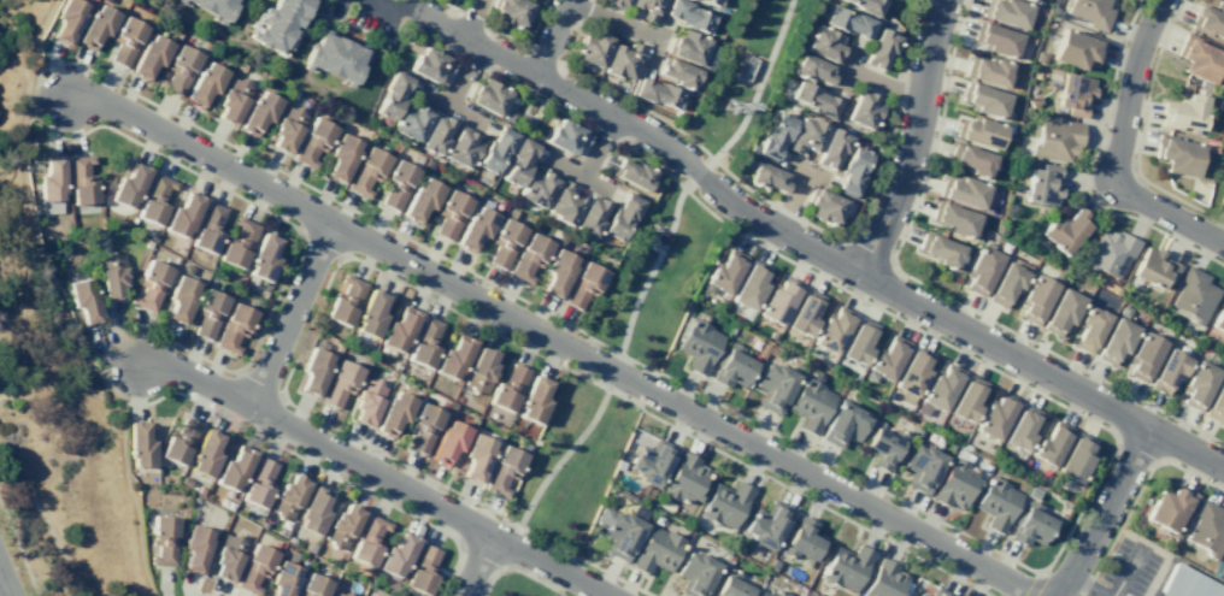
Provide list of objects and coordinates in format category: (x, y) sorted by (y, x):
building: (460, 0)
building: (1034, 0)
building: (711, 1)
building: (617, 4)
road: (394, 6)
building: (867, 6)
building: (211, 7)
building: (646, 8)
building: (1006, 11)
building: (510, 12)
building: (1090, 12)
building: (688, 14)
road: (307, 16)
road: (471, 18)
road: (612, 18)
building: (1208, 19)
building: (67, 20)
building: (848, 22)
building: (275, 23)
road: (482, 23)
road: (535, 23)
building: (95, 26)
road: (1167, 28)
road: (366, 31)
road: (552, 36)
building: (995, 39)
building: (125, 41)
road: (655, 43)
building: (825, 45)
building: (593, 47)
building: (685, 47)
building: (879, 48)
building: (1076, 48)
building: (333, 55)
building: (149, 57)
building: (707, 57)
building: (1040, 58)
building: (1196, 58)
road: (464, 60)
building: (622, 60)
building: (430, 64)
road: (845, 67)
building: (812, 69)
building: (178, 70)
building: (988, 71)
road: (463, 73)
building: (677, 73)
park: (745, 75)
building: (204, 83)
road: (758, 83)
road: (883, 83)
road: (608, 90)
building: (655, 93)
building: (1073, 93)
building: (392, 95)
building: (488, 95)
road: (535, 98)
building: (813, 99)
building: (233, 100)
building: (983, 100)
building: (1032, 101)
power tower: (730, 106)
road: (451, 107)
building: (863, 110)
building: (258, 113)
building: (1182, 113)
road: (526, 116)
building: (505, 117)
building: (411, 120)
building: (286, 129)
building: (979, 131)
building: (435, 135)
building: (806, 135)
building: (565, 136)
building: (773, 136)
road: (912, 140)
building: (1055, 140)
building: (312, 142)
road: (599, 146)
building: (1208, 146)
building: (461, 147)
building: (831, 148)
building: (494, 149)
road: (1118, 149)
building: (1176, 154)
building: (341, 157)
building: (971, 159)
building: (518, 161)
road: (1135, 165)
road: (275, 169)
road: (805, 170)
road: (1085, 170)
building: (366, 171)
road: (698, 171)
building: (851, 171)
road: (194, 173)
road: (578, 173)
building: (631, 173)
building: (767, 176)
building: (1222, 178)
building: (81, 179)
building: (396, 184)
building: (1042, 184)
building: (49, 185)
building: (129, 185)
building: (537, 188)
building: (963, 191)
road: (692, 197)
road: (870, 197)
building: (154, 200)
building: (420, 200)
road: (792, 200)
building: (1222, 200)
building: (564, 203)
building: (823, 206)
building: (183, 214)
building: (449, 214)
building: (589, 216)
building: (619, 217)
building: (953, 219)
building: (208, 228)
road: (665, 228)
building: (473, 229)
road: (347, 230)
building: (1065, 231)
road: (649, 240)
building: (504, 242)
building: (237, 243)
road: (811, 248)
building: (938, 249)
building: (1110, 253)
building: (529, 256)
building: (263, 258)
building: (1153, 267)
road: (651, 269)
building: (981, 270)
building: (557, 272)
building: (723, 273)
building: (112, 275)
park: (657, 278)
building: (151, 283)
building: (1006, 283)
building: (583, 285)
building: (749, 285)
road: (934, 291)
building: (1194, 295)
building: (83, 299)
building: (1035, 299)
building: (181, 300)
building: (343, 300)
building: (778, 300)
building: (802, 312)
building: (1060, 312)
building: (207, 313)
road: (290, 313)
building: (370, 314)
building: (1218, 319)
building: (233, 326)
building: (399, 329)
building: (831, 329)
building: (1089, 329)
road: (258, 336)
building: (1114, 341)
building: (858, 342)
road: (106, 343)
building: (425, 343)
building: (698, 346)
building: (761, 350)
building: (1143, 355)
building: (454, 356)
building: (884, 359)
building: (731, 366)
building: (479, 370)
building: (313, 371)
road: (612, 371)
building: (1167, 371)
road: (123, 374)
building: (911, 374)
building: (339, 383)
building: (1197, 383)
building: (507, 386)
building: (773, 386)
road: (53, 388)
building: (937, 389)
building: (966, 399)
building: (534, 400)
building: (366, 401)
building: (1216, 402)
building: (810, 403)
building: (393, 413)
building: (994, 415)
building: (842, 423)
building: (422, 427)
road: (672, 427)
building: (1020, 429)
building: (180, 441)
building: (447, 443)
building: (1049, 443)
building: (140, 444)
building: (882, 444)
building: (205, 454)
building: (476, 456)
road: (390, 458)
building: (1075, 458)
park: (569, 462)
building: (651, 462)
road: (314, 464)
road: (554, 464)
building: (922, 467)
building: (234, 468)
building: (504, 470)
road: (376, 473)
building: (684, 479)
building: (957, 480)
building: (258, 483)
road: (831, 488)
building: (1032, 494)
building: (288, 496)
road: (1135, 496)
building: (725, 503)
building: (996, 504)
building: (1169, 508)
building: (314, 511)
road: (1104, 512)
road: (42, 521)
building: (766, 524)
building: (342, 525)
building: (1029, 525)
building: (1207, 529)
building: (617, 532)
building: (801, 539)
building: (163, 541)
building: (367, 541)
building: (195, 547)
road: (19, 549)
building: (655, 550)
building: (398, 554)
building: (228, 556)
road: (476, 565)
building: (772, 565)
building: (845, 566)
building: (1220, 567)
building: (254, 568)
road: (517, 568)
building: (422, 570)
road: (1031, 570)
building: (695, 573)
road: (1124, 573)
road: (1040, 578)
building: (283, 579)
building: (883, 580)
road: (5, 584)
building: (1188, 584)
building: (729, 585)
road: (1085, 585)
building: (312, 586)
park: (516, 586)
building: (938, 592)
road: (201, 594)
building: (342, 594)
building: (770, 594)
building: (920, 595)

